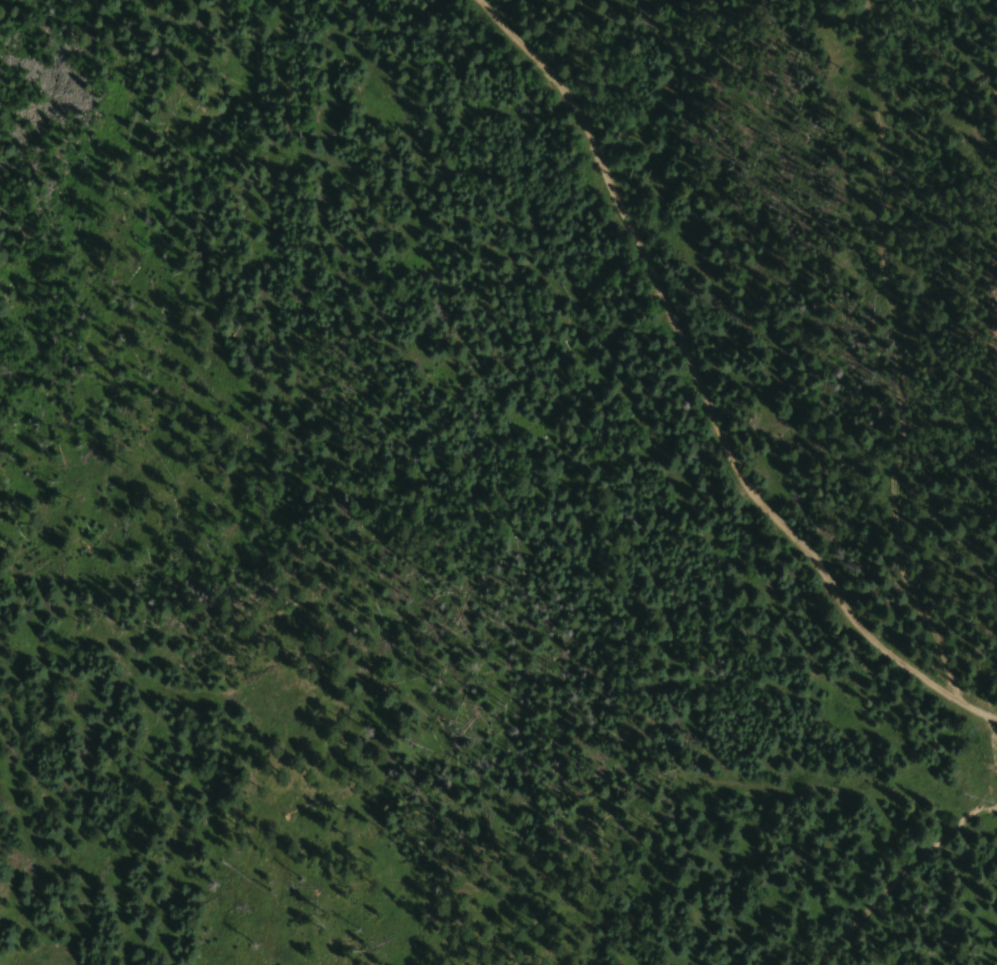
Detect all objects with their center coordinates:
road: (708, 386)

